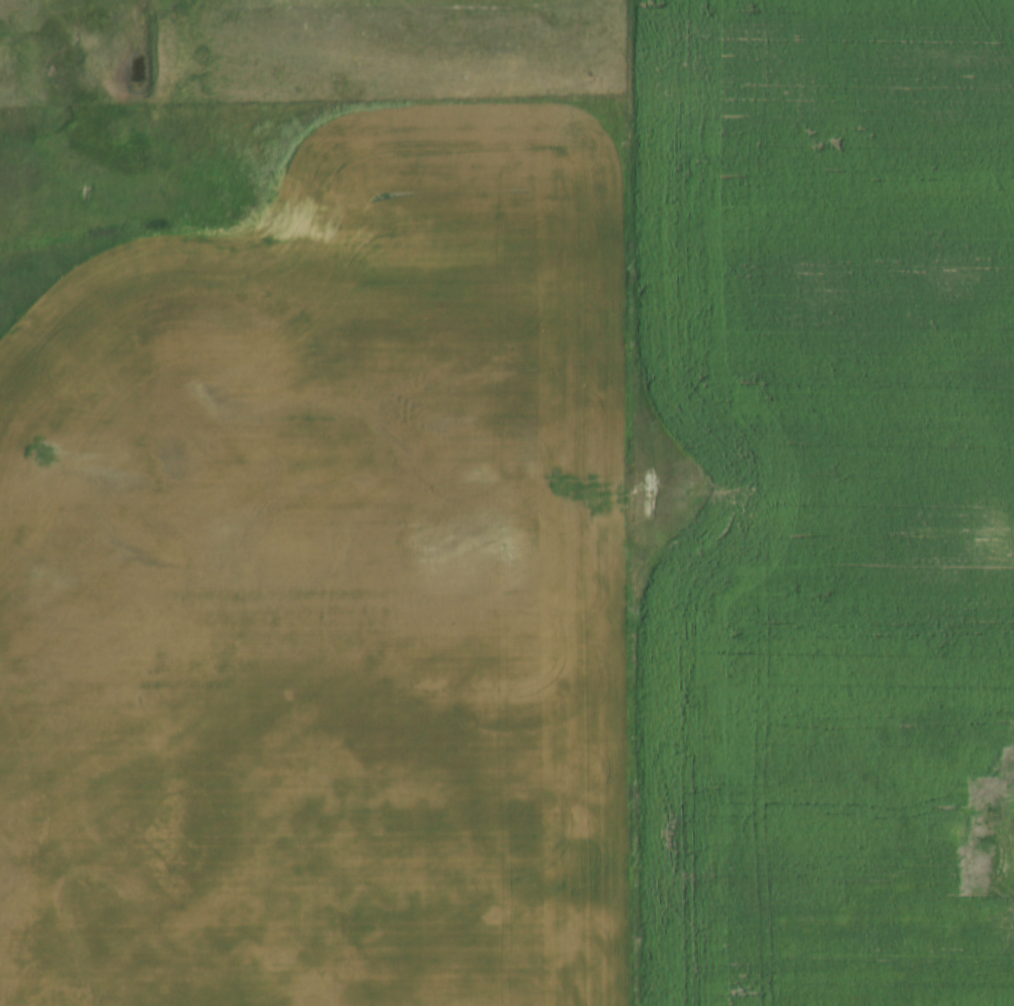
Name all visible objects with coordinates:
road: (638, 502)

